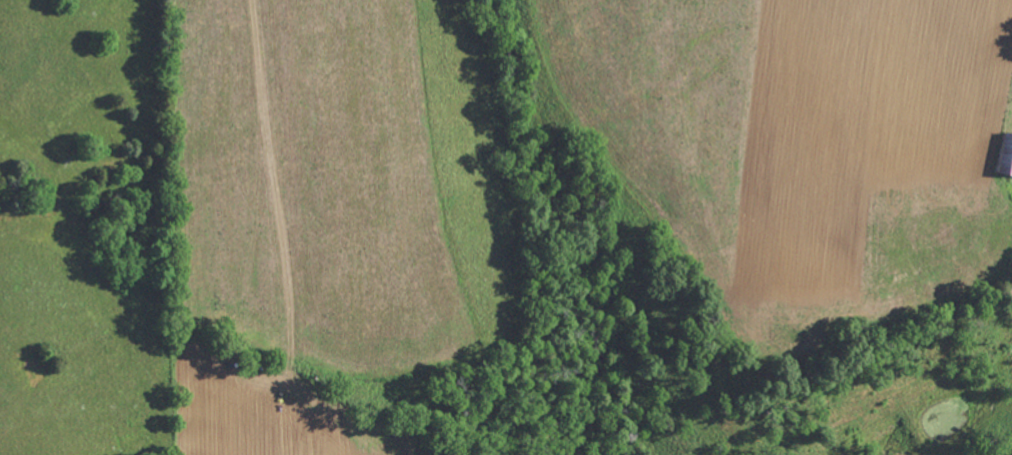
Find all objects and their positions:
building: (1007, 156)

